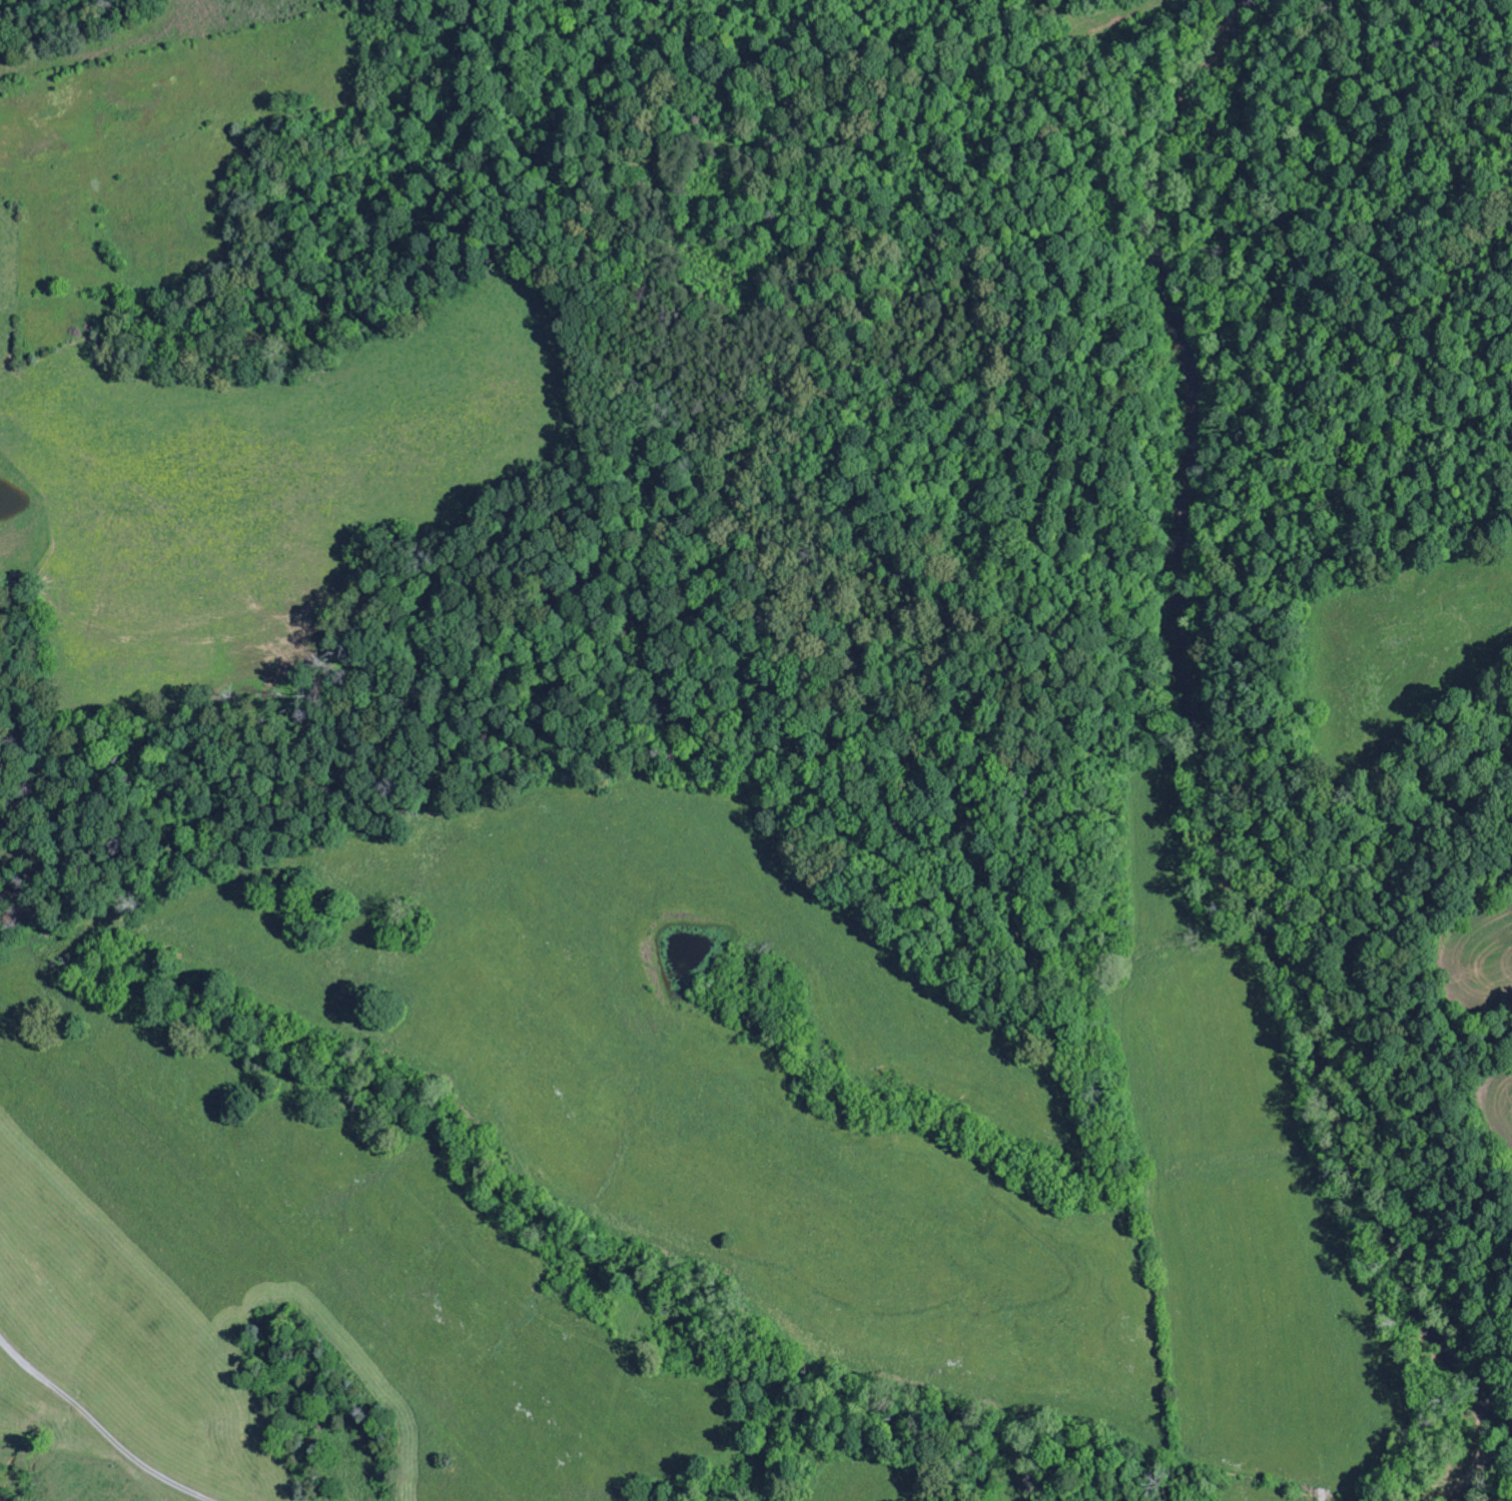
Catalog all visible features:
road: (72, 172)

